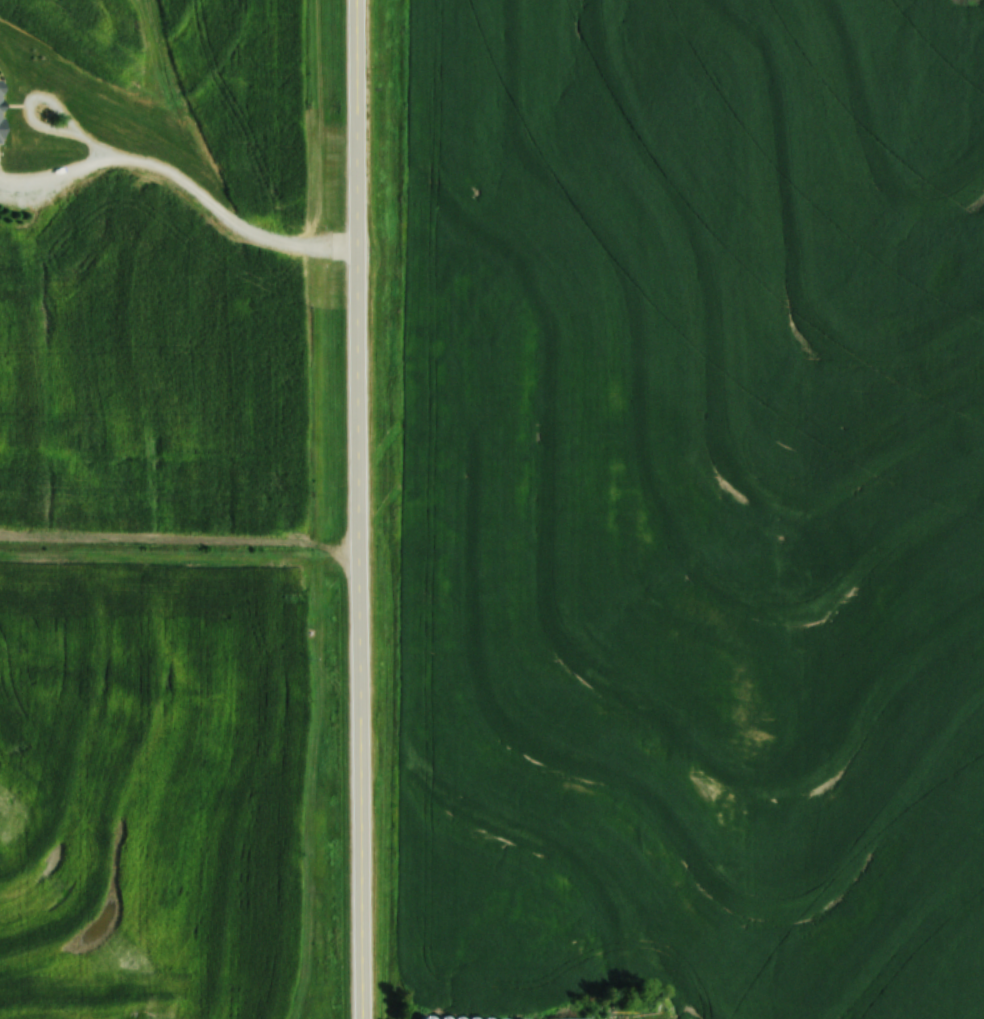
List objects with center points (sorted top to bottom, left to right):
road: (41, 94)
building: (3, 113)
road: (184, 178)
road: (361, 509)

